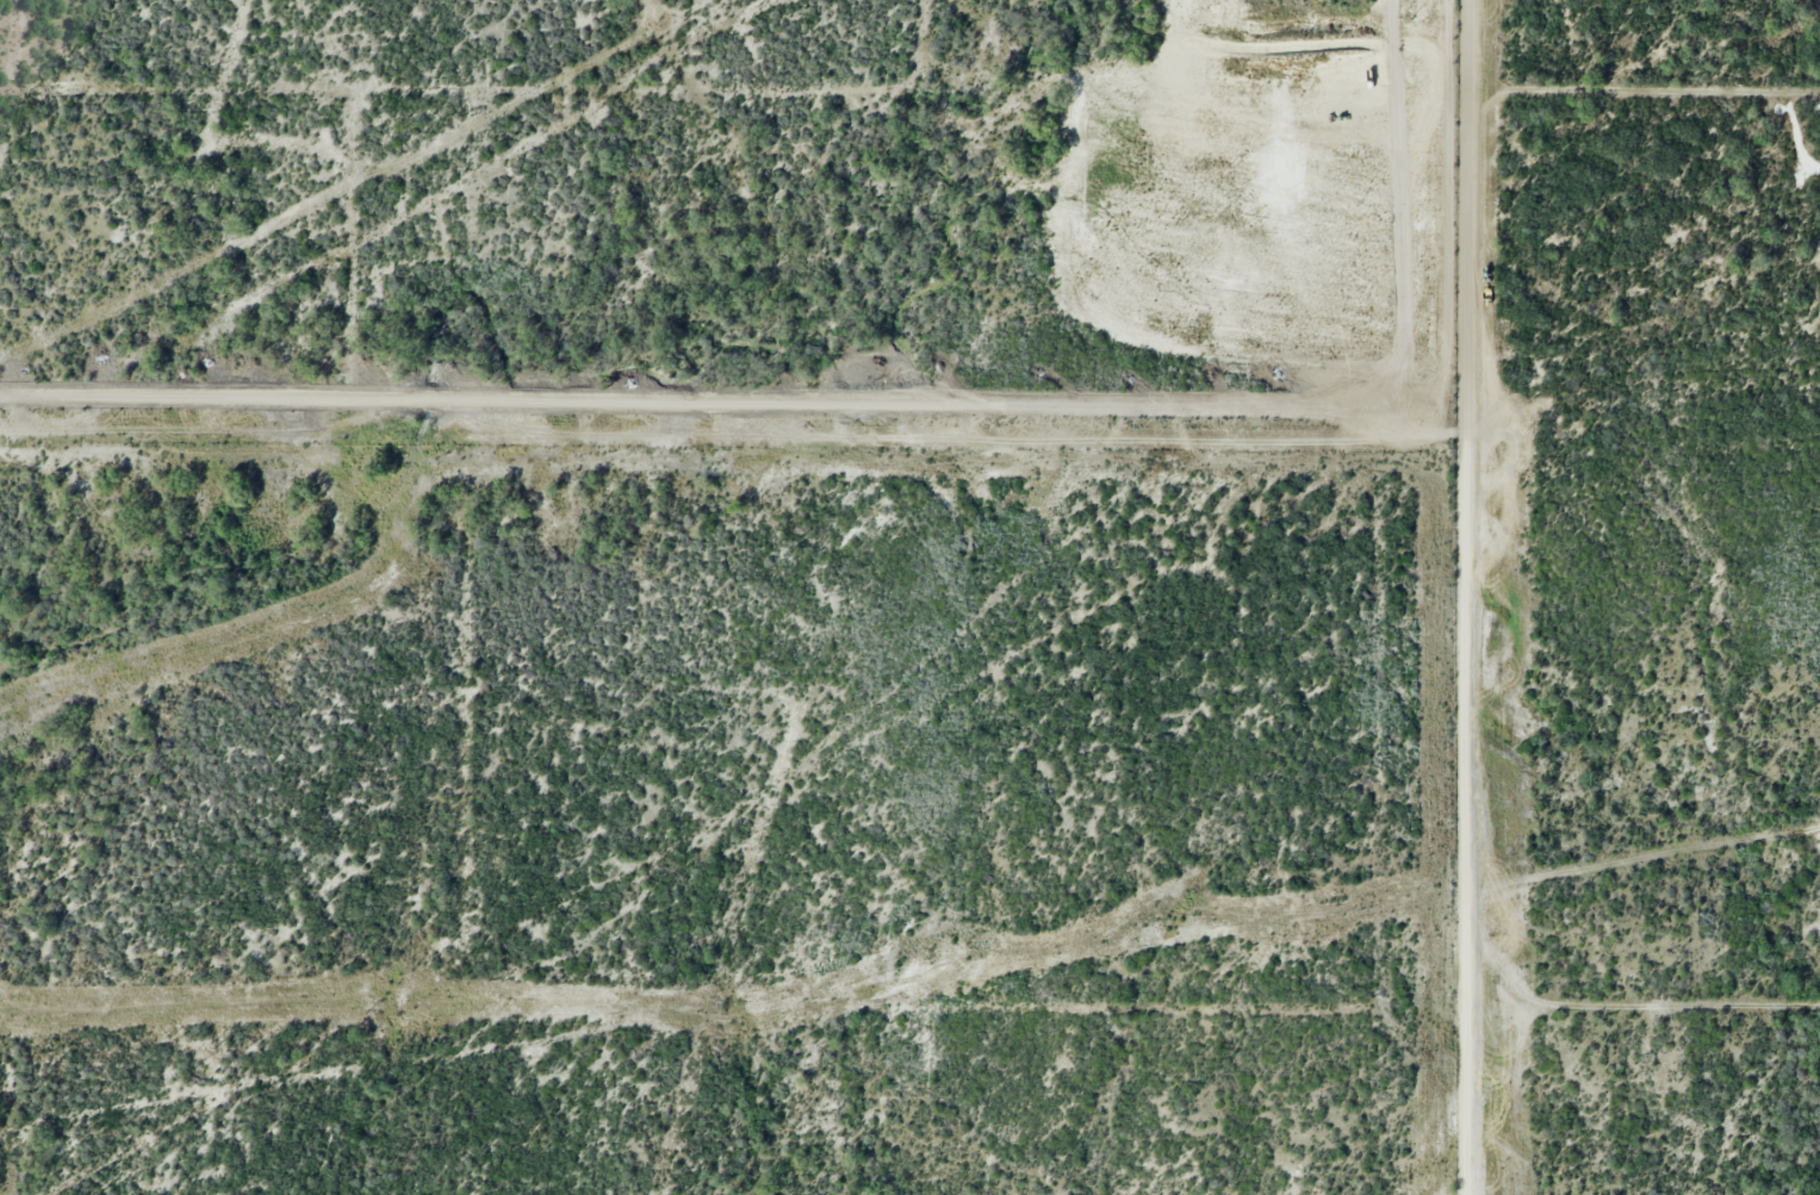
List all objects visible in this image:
road: (1375, 8)

